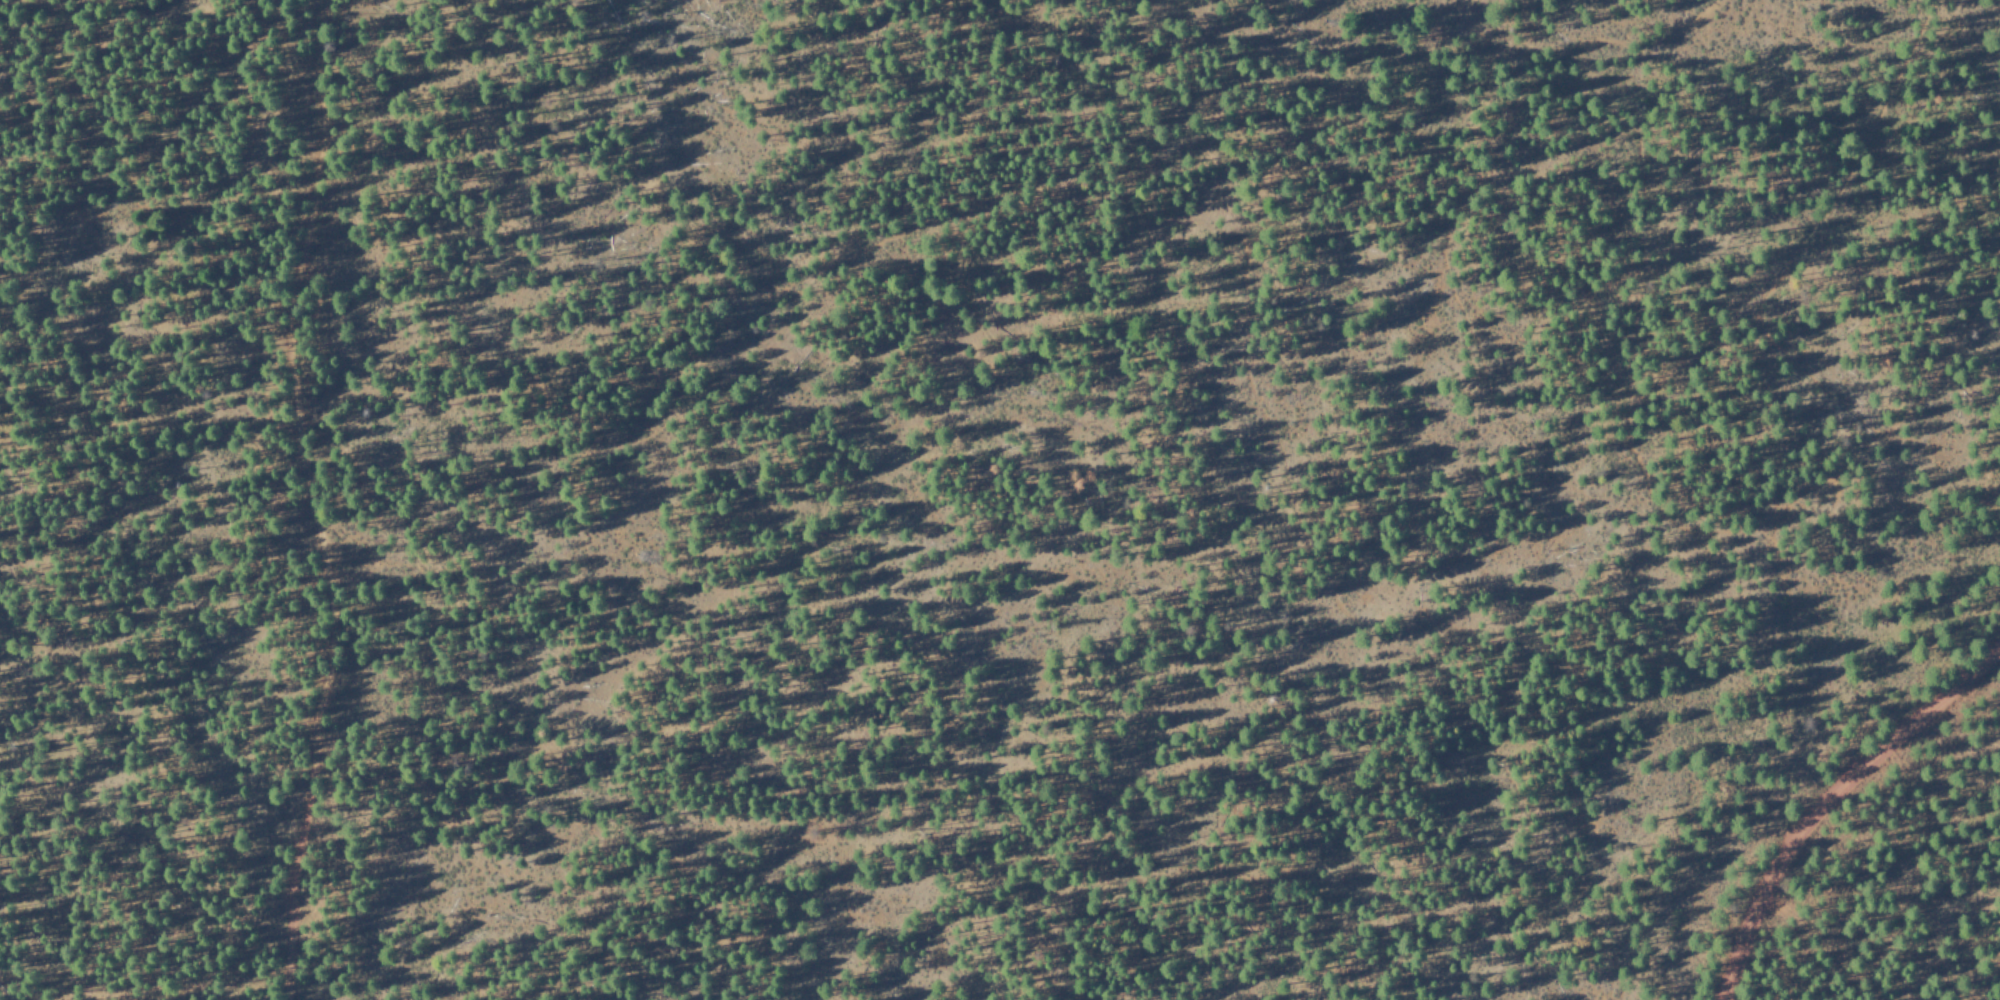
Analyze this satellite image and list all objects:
road: (313, 500)
road: (1828, 799)

